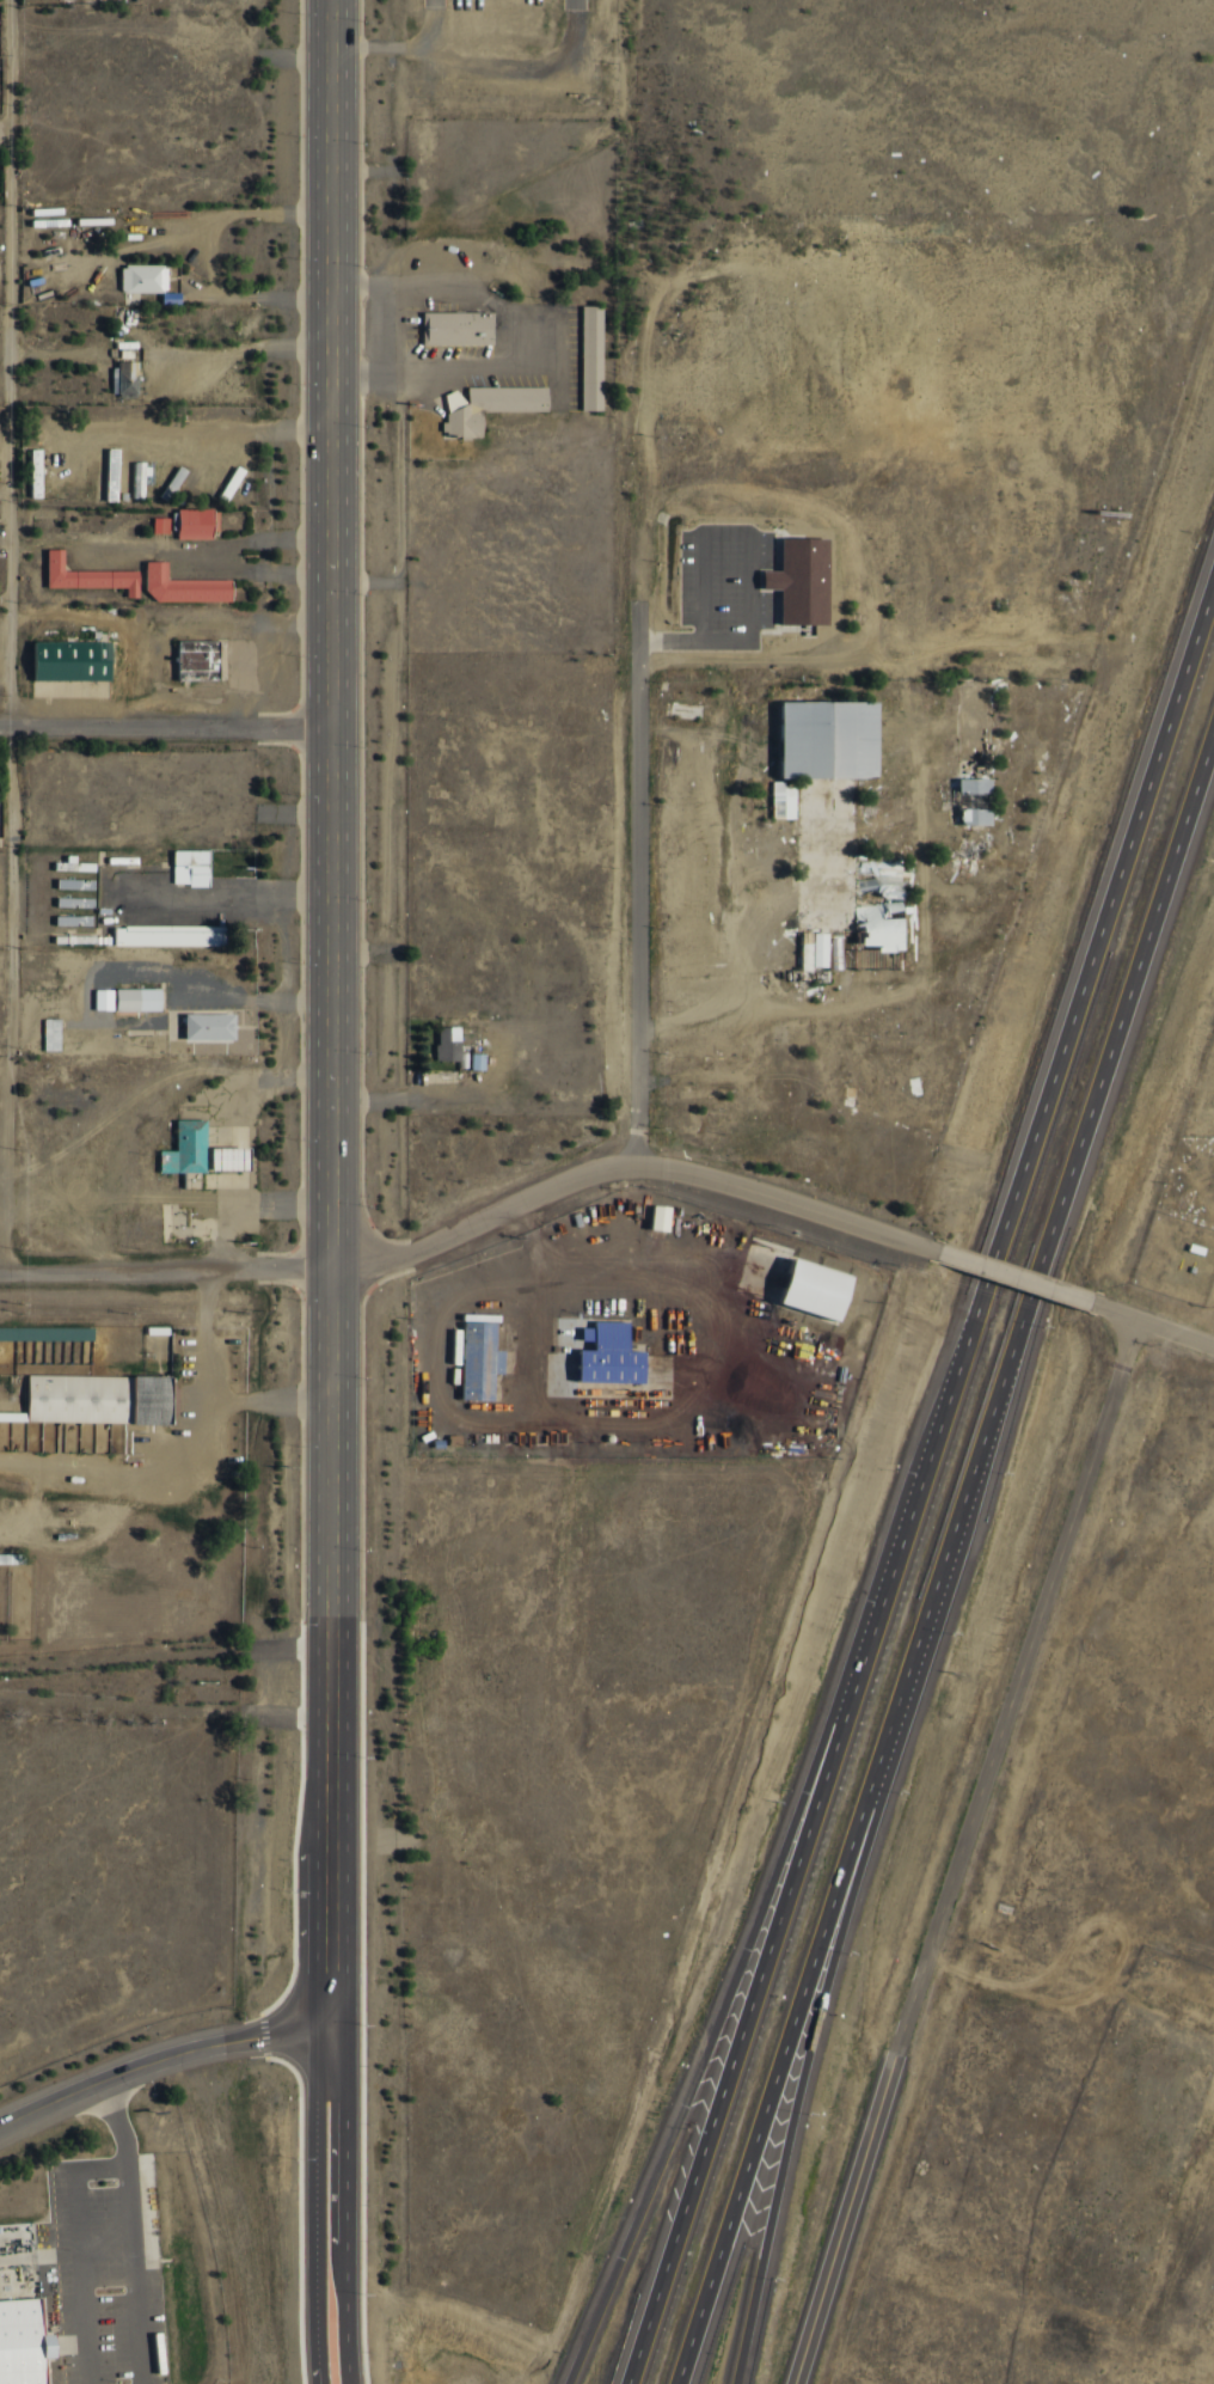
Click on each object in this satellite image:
road: (2, 130)
building: (145, 277)
building: (458, 328)
building: (593, 356)
road: (7, 363)
road: (437, 367)
building: (124, 378)
building: (489, 406)
building: (37, 472)
building: (140, 479)
building: (197, 524)
building: (161, 525)
building: (90, 575)
building: (791, 580)
building: (184, 586)
building: (198, 659)
building: (74, 660)
road: (163, 727)
building: (968, 786)
building: (778, 801)
building: (968, 817)
building: (828, 839)
building: (74, 864)
building: (192, 866)
building: (74, 882)
road: (634, 882)
building: (75, 901)
building: (74, 919)
building: (171, 934)
building: (105, 998)
building: (140, 998)
road: (327, 1017)
building: (211, 1025)
building: (53, 1033)
building: (443, 1043)
building: (474, 1062)
building: (189, 1148)
building: (222, 1154)
building: (646, 1215)
road: (473, 1223)
road: (1007, 1276)
building: (793, 1288)
road: (1148, 1324)
building: (147, 1326)
building: (43, 1333)
building: (596, 1351)
building: (470, 1356)
building: (90, 1398)
building: (7, 1412)
road: (919, 1478)
road: (943, 1553)
building: (7, 1554)
road: (163, 1655)
road: (164, 1706)
road: (957, 1850)
road: (701, 2044)
road: (159, 2058)
road: (798, 2064)
road: (345, 2160)
road: (309, 2186)
road: (342, 2337)
building: (16, 2341)
road: (307, 2361)
road: (317, 2361)

